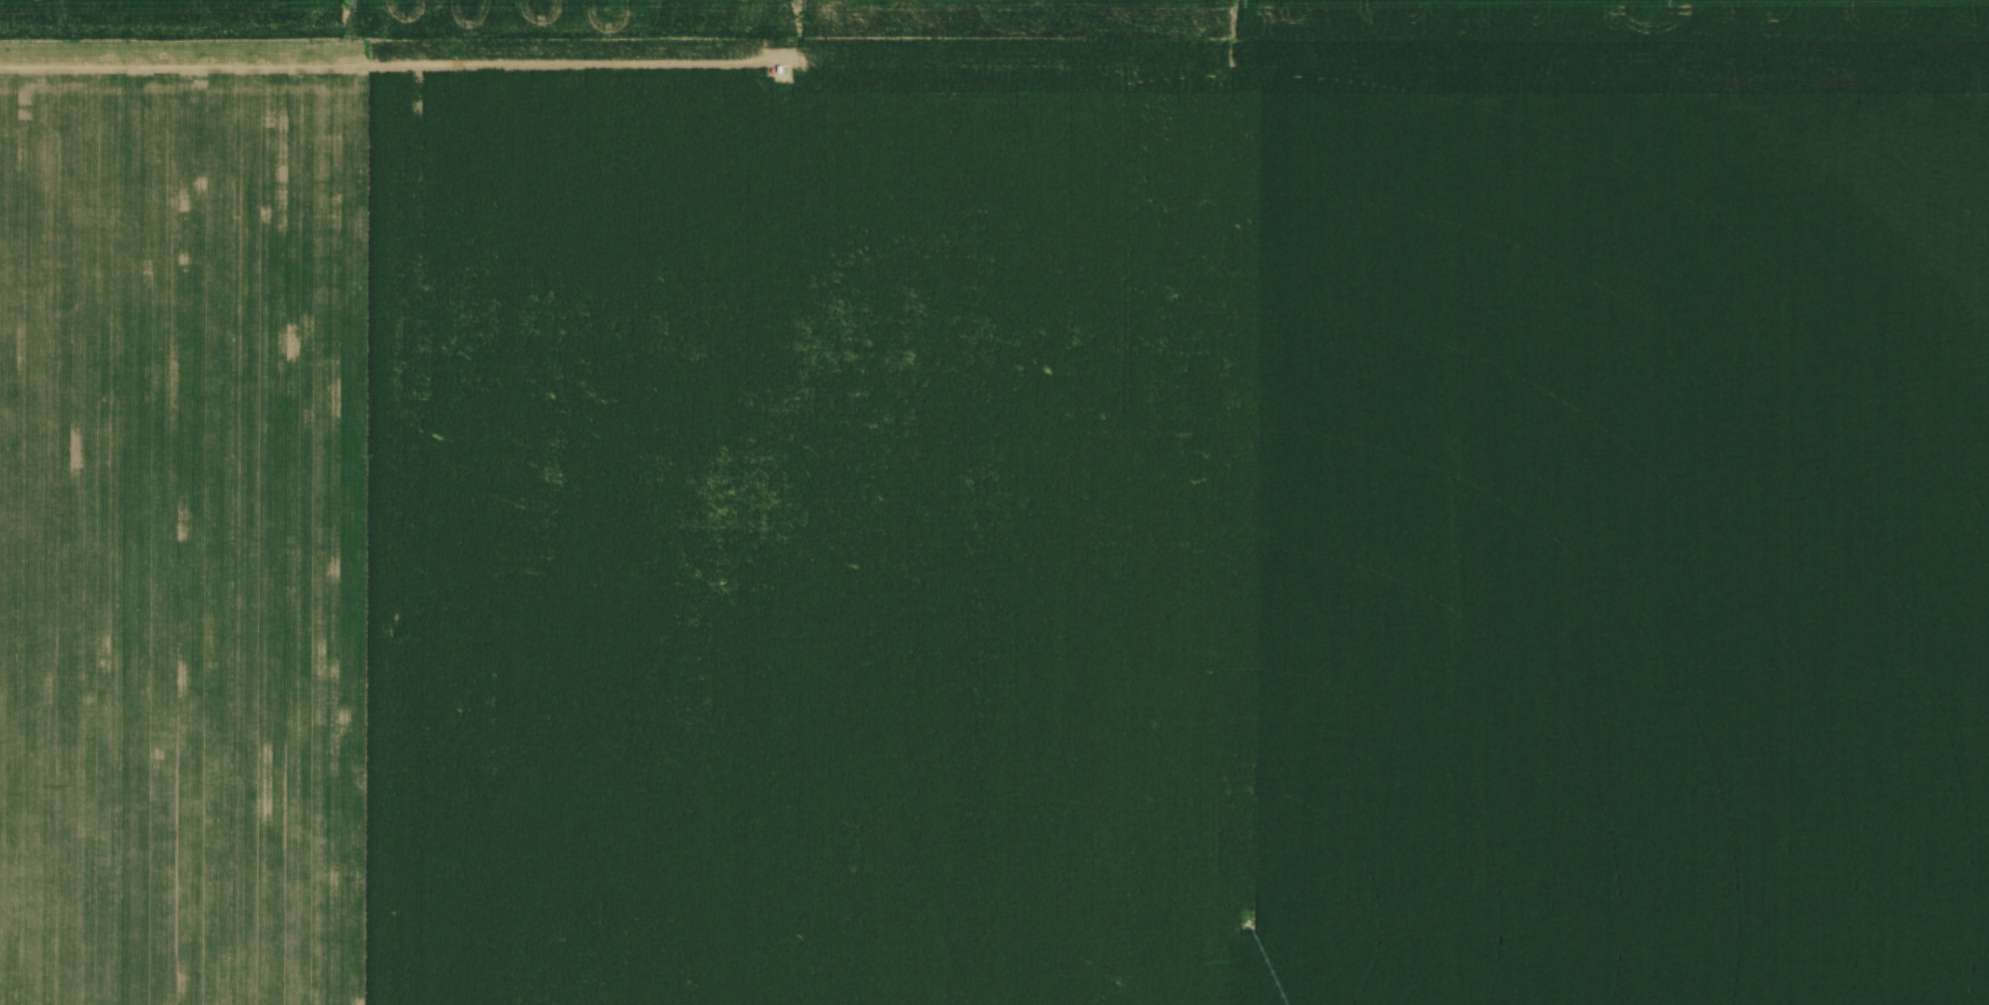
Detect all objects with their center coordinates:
power tower: (799, 0)
power tower: (349, 2)

